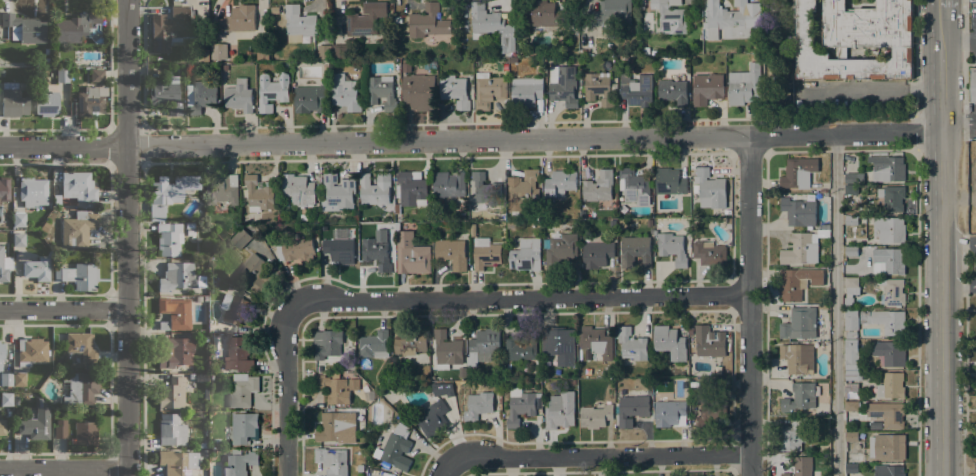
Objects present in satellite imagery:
road: (940, 4)
building: (275, 10)
building: (610, 14)
building: (547, 15)
building: (670, 17)
building: (237, 19)
building: (365, 19)
building: (731, 19)
building: (484, 20)
building: (428, 22)
building: (298, 24)
building: (24, 28)
building: (80, 28)
building: (171, 28)
building: (507, 38)
building: (855, 39)
road: (958, 39)
building: (710, 48)
building: (218, 51)
building: (339, 51)
building: (582, 51)
building: (645, 51)
building: (324, 52)
road: (915, 58)
building: (429, 65)
building: (505, 66)
building: (406, 67)
road: (964, 69)
building: (1, 73)
building: (62, 74)
building: (97, 75)
building: (973, 84)
building: (563, 85)
building: (744, 86)
building: (598, 88)
building: (706, 88)
building: (453, 90)
building: (488, 90)
building: (636, 90)
building: (272, 91)
building: (382, 91)
building: (419, 91)
building: (672, 91)
building: (525, 92)
building: (344, 93)
building: (166, 94)
building: (199, 96)
building: (239, 96)
building: (310, 99)
building: (90, 100)
building: (13, 101)
building: (46, 104)
road: (916, 133)
road: (470, 139)
road: (875, 151)
building: (886, 167)
building: (798, 172)
building: (853, 178)
building: (669, 181)
building: (559, 183)
building: (78, 185)
building: (448, 185)
building: (598, 186)
building: (634, 187)
building: (220, 188)
building: (4, 189)
building: (374, 189)
building: (485, 189)
building: (709, 189)
building: (851, 189)
building: (170, 190)
building: (298, 190)
building: (409, 190)
building: (522, 190)
building: (32, 191)
building: (259, 193)
building: (337, 193)
building: (892, 198)
road: (958, 199)
building: (798, 211)
building: (727, 212)
building: (582, 213)
building: (303, 217)
building: (437, 217)
building: (18, 219)
building: (728, 220)
building: (850, 220)
building: (612, 224)
building: (189, 225)
building: (511, 225)
building: (150, 226)
building: (77, 228)
building: (354, 228)
building: (889, 229)
building: (472, 230)
building: (190, 232)
building: (2, 238)
road: (128, 238)
building: (168, 238)
building: (240, 238)
building: (19, 239)
road: (941, 242)
building: (671, 248)
building: (802, 248)
building: (338, 249)
building: (560, 249)
road: (958, 249)
building: (296, 250)
building: (374, 250)
building: (634, 251)
building: (851, 251)
building: (450, 253)
building: (485, 253)
building: (709, 253)
building: (596, 254)
building: (411, 255)
building: (526, 255)
building: (888, 261)
building: (4, 265)
building: (36, 268)
building: (253, 273)
building: (79, 275)
building: (179, 277)
building: (797, 283)
road: (959, 286)
building: (850, 291)
building: (892, 291)
building: (205, 298)
road: (519, 300)
building: (825, 300)
road: (750, 305)
road: (834, 305)
building: (822, 307)
building: (234, 308)
road: (64, 311)
building: (176, 312)
road: (917, 313)
building: (884, 320)
building: (851, 322)
building: (799, 323)
building: (690, 332)
building: (409, 340)
building: (710, 340)
building: (597, 341)
building: (326, 343)
building: (670, 343)
building: (374, 344)
building: (560, 344)
building: (631, 344)
building: (81, 345)
building: (522, 345)
building: (483, 346)
building: (446, 348)
building: (31, 351)
building: (176, 351)
building: (1, 352)
building: (890, 353)
building: (237, 354)
building: (850, 355)
building: (797, 358)
road: (964, 358)
building: (462, 371)
building: (573, 372)
building: (853, 375)
building: (191, 376)
building: (5, 379)
building: (19, 379)
building: (572, 382)
building: (891, 386)
building: (79, 387)
building: (337, 387)
building: (242, 389)
building: (443, 389)
road: (287, 390)
building: (851, 390)
building: (172, 392)
building: (799, 397)
building: (6, 398)
building: (15, 399)
building: (475, 405)
building: (521, 405)
building: (632, 406)
building: (851, 406)
building: (347, 411)
building: (560, 411)
building: (710, 412)
building: (670, 413)
building: (888, 414)
building: (595, 416)
building: (432, 418)
building: (36, 423)
building: (2, 427)
building: (243, 427)
building: (60, 428)
building: (329, 428)
building: (171, 430)
building: (85, 432)
building: (792, 434)
building: (201, 444)
building: (852, 444)
building: (888, 446)
building: (395, 448)
building: (204, 452)
road: (600, 456)
building: (332, 461)
building: (177, 462)
building: (239, 462)
building: (367, 464)
building: (801, 465)
building: (851, 468)
road: (66, 469)
road: (447, 470)
building: (888, 470)
building: (784, 474)

